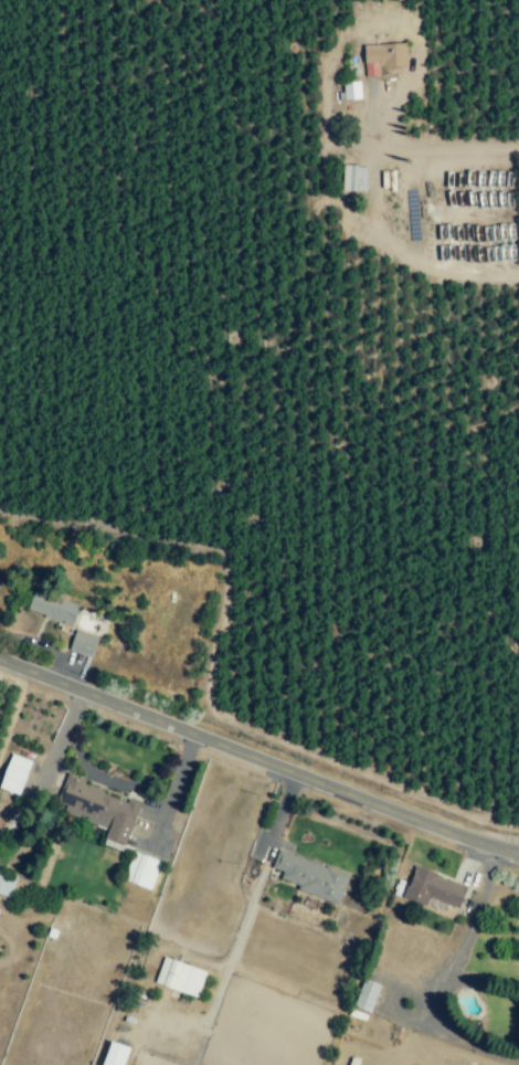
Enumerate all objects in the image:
building: (383, 56)
building: (351, 91)
building: (354, 178)
road: (373, 201)
crop: (285, 366)
building: (52, 608)
building: (83, 644)
crop: (3, 703)
road: (258, 759)
building: (14, 774)
road: (106, 780)
building: (99, 809)
road: (277, 813)
building: (141, 871)
building: (311, 877)
building: (7, 884)
building: (433, 888)
road: (464, 932)
building: (180, 977)
building: (367, 995)
building: (115, 1054)

